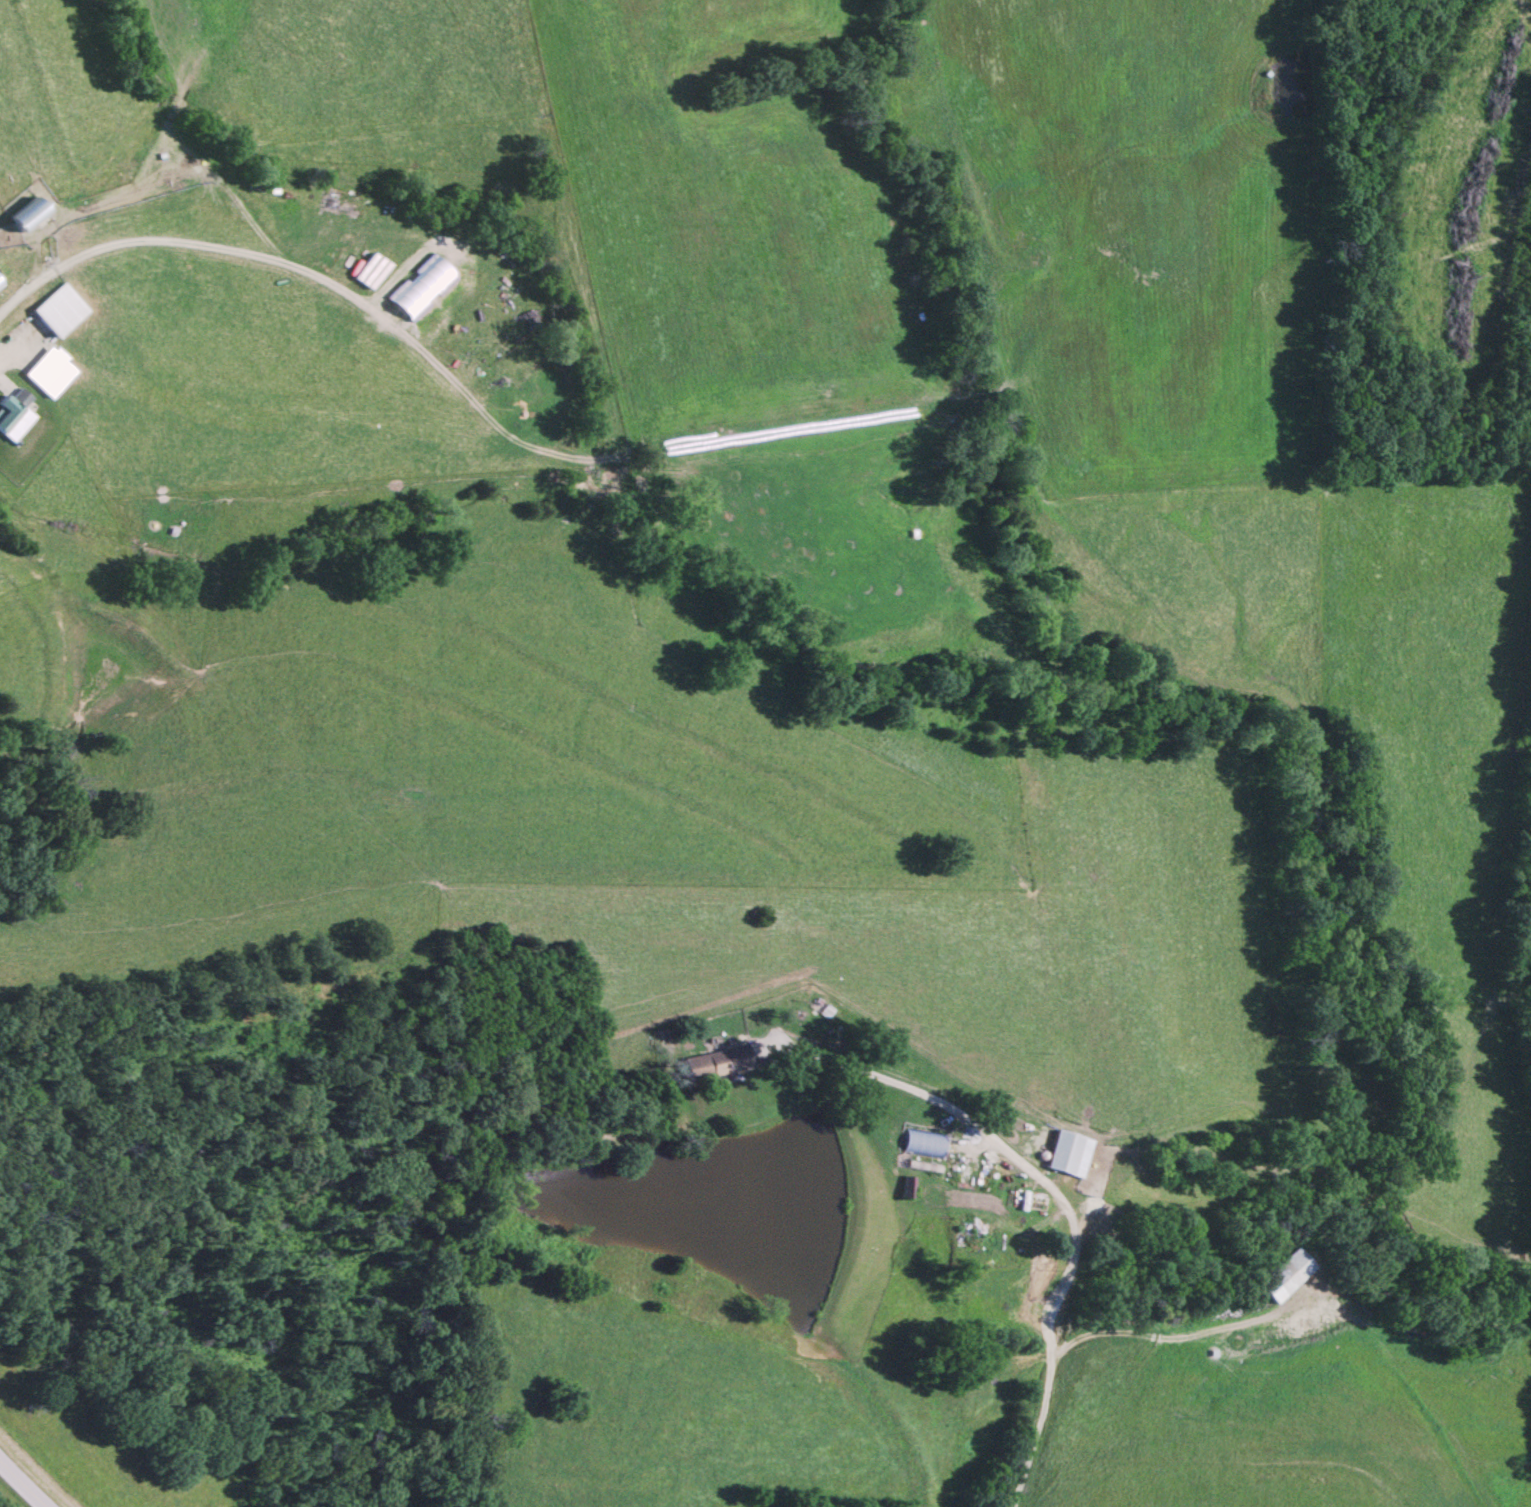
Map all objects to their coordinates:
building: (21, 217)
building: (417, 290)
building: (56, 312)
building: (47, 374)
building: (11, 406)
building: (714, 1065)
building: (1067, 1156)
road: (1046, 1188)
building: (1034, 1205)
building: (977, 1241)
building: (1283, 1279)
road: (30, 1481)

